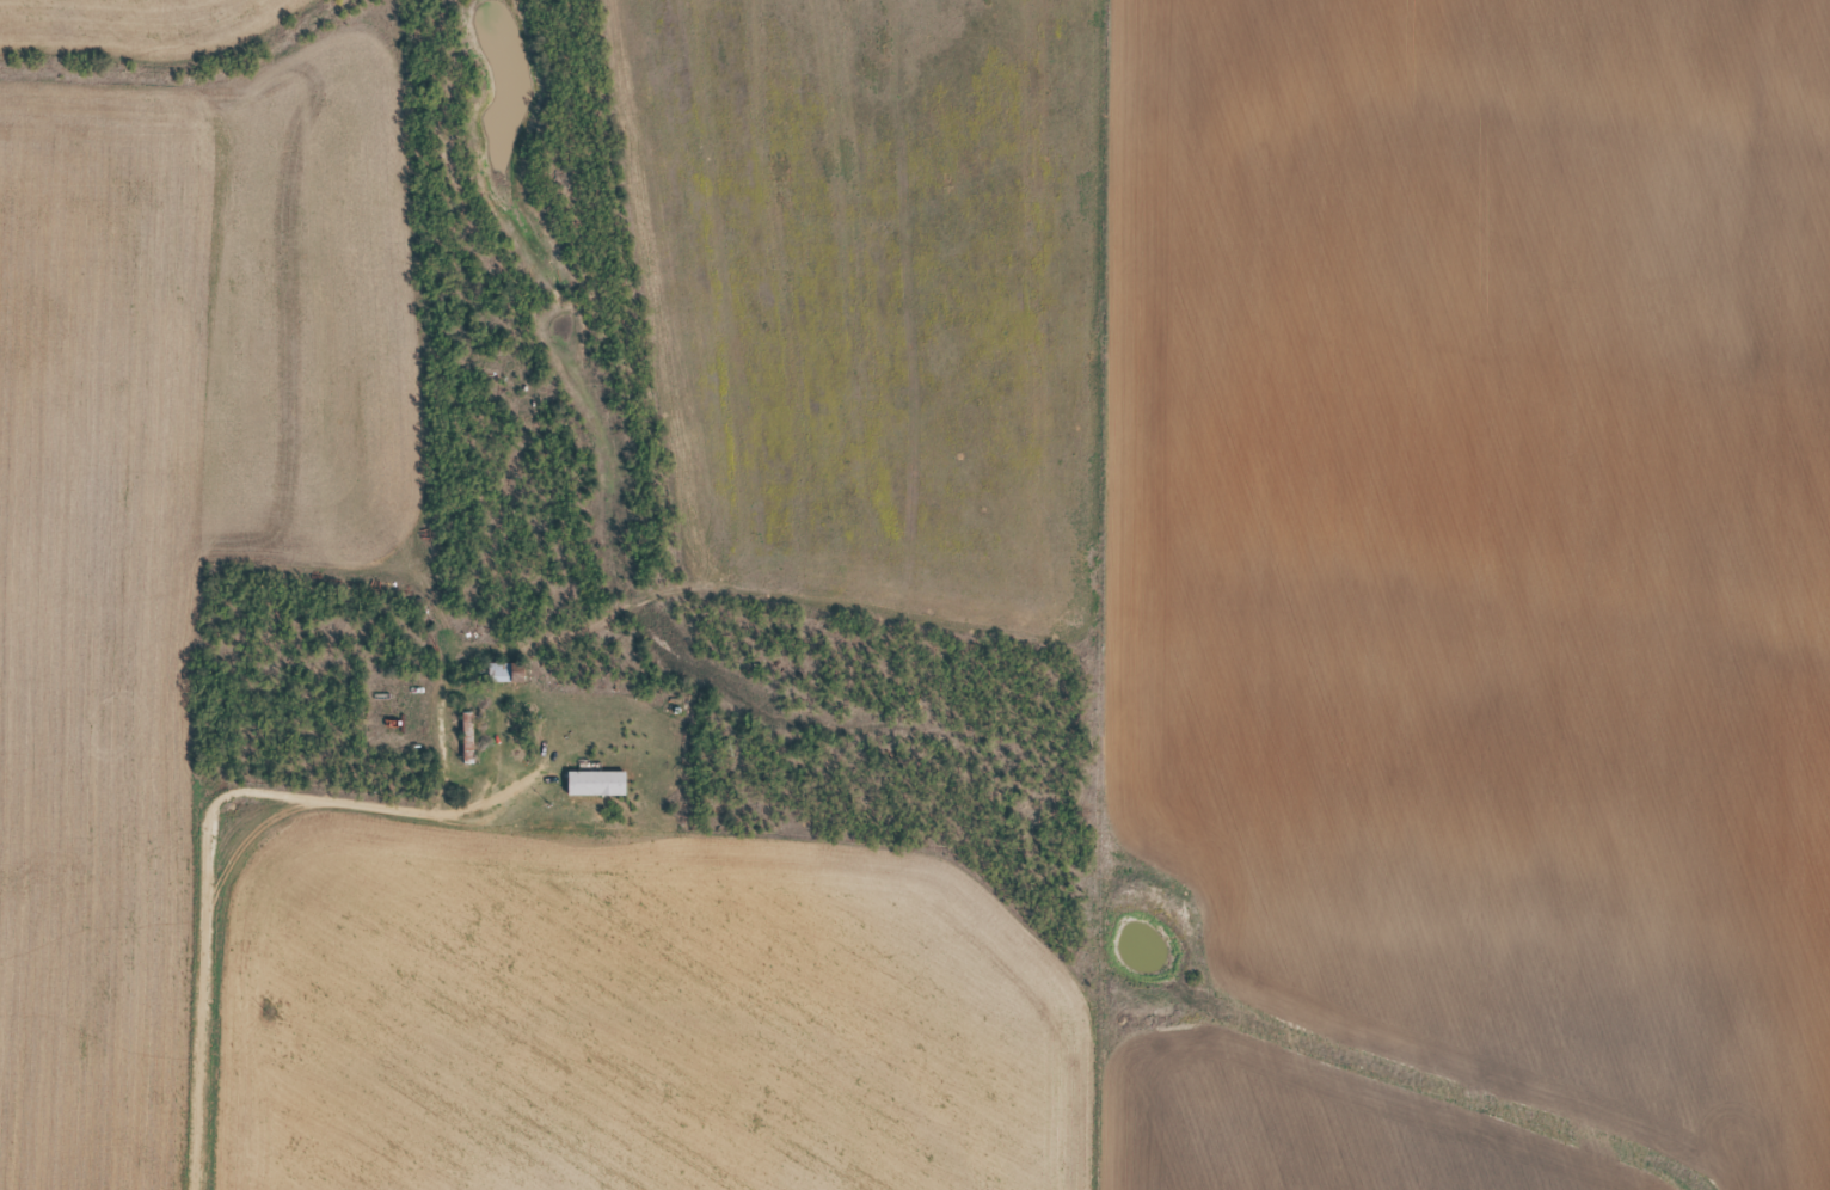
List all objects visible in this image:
building: (505, 671)
building: (468, 737)
building: (596, 781)

